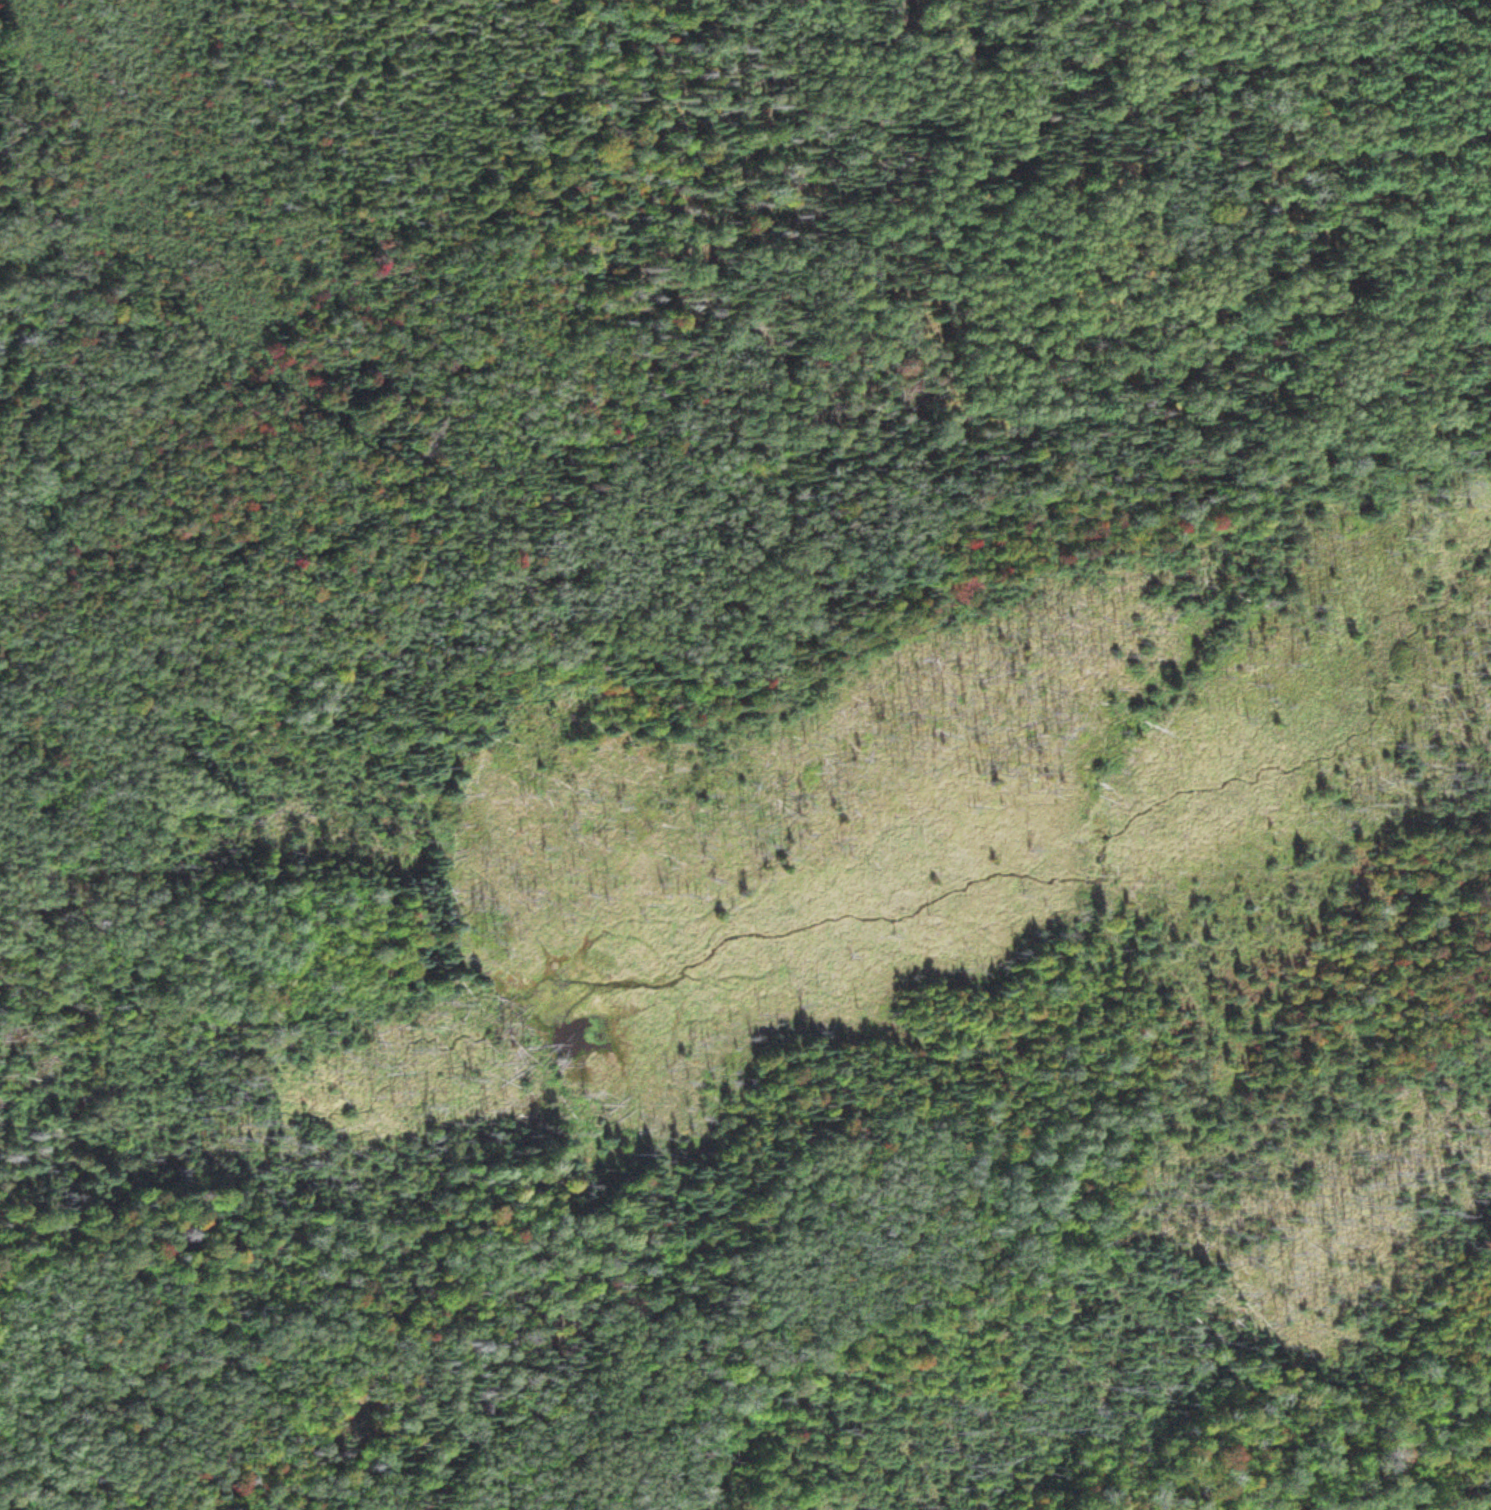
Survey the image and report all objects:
road: (1338, 107)
road: (700, 591)
park: (745, 755)

